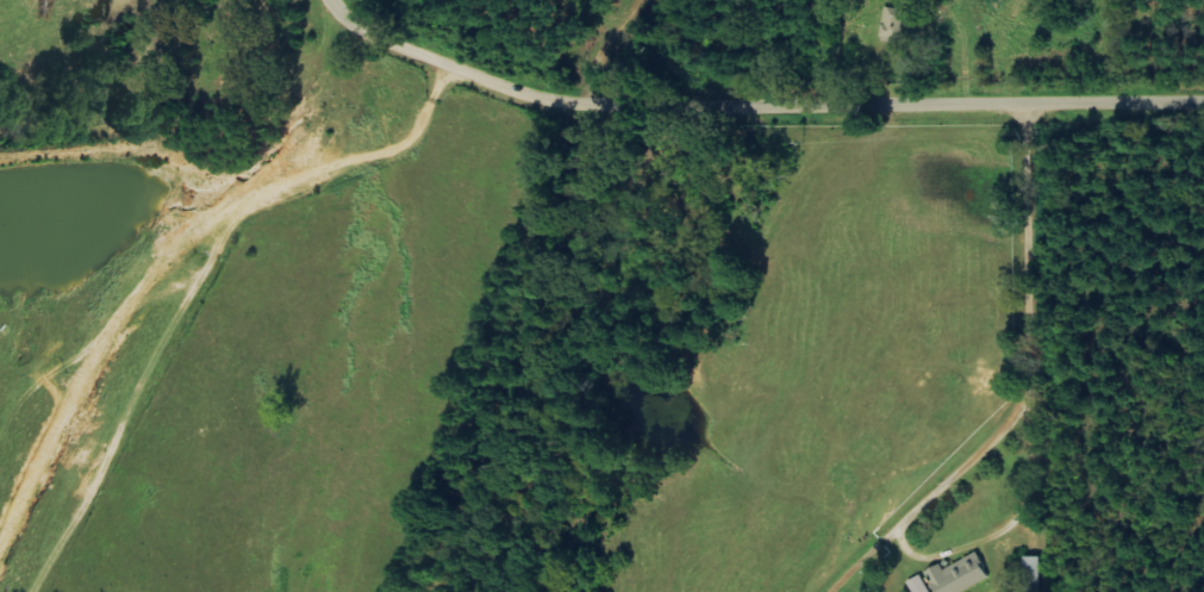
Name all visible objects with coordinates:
road: (337, 7)
building: (897, 25)
road: (394, 40)
road: (823, 105)
road: (185, 254)
building: (962, 574)
building: (921, 585)

